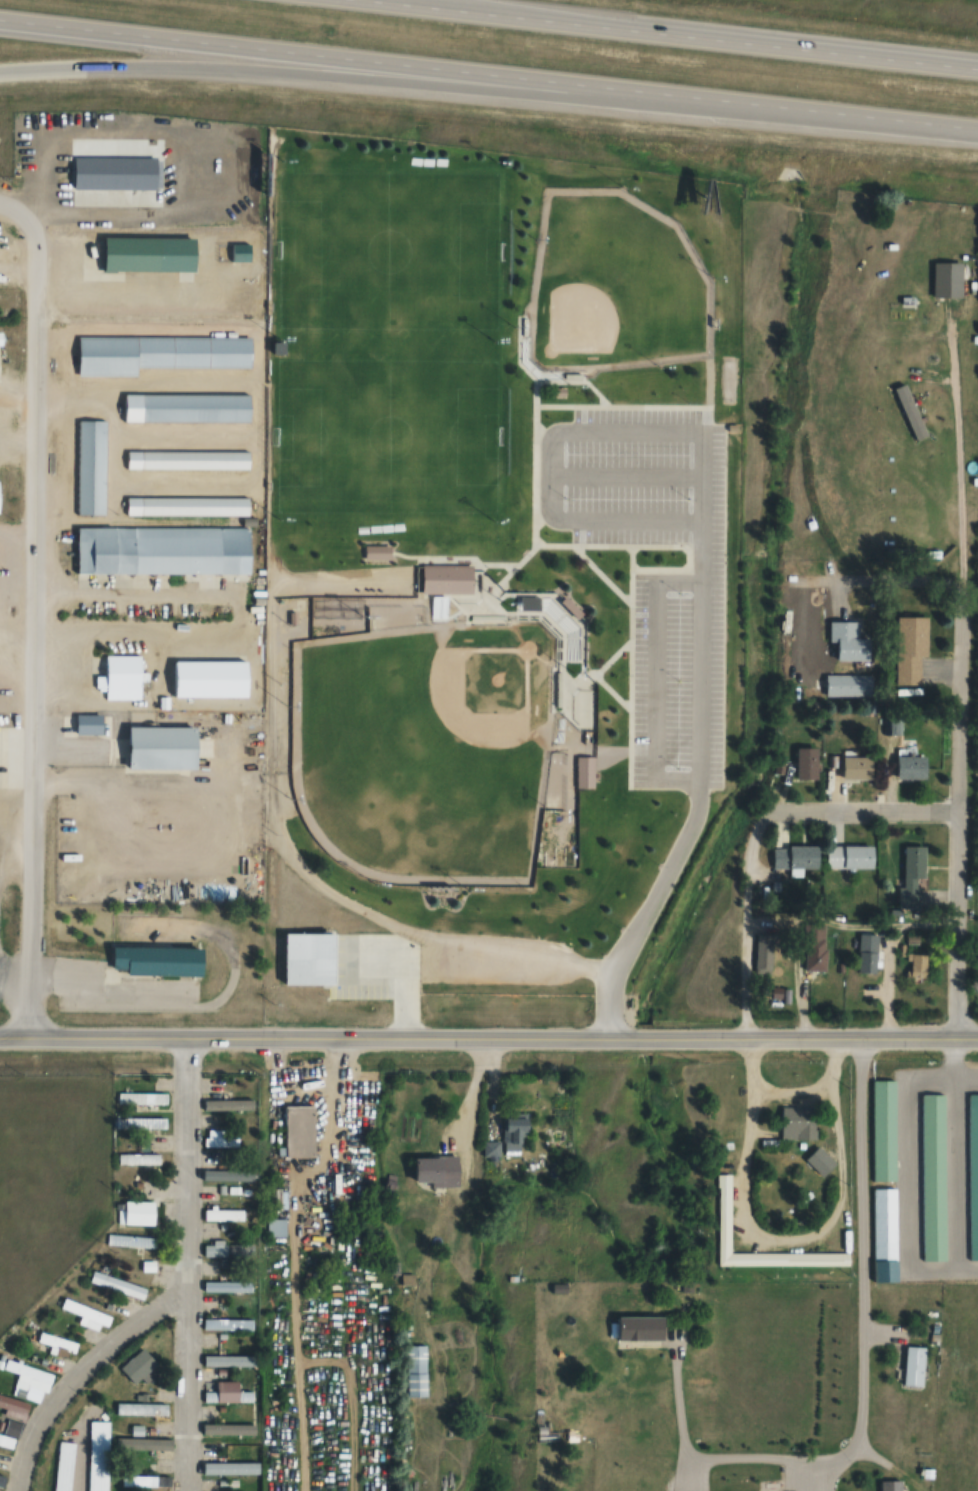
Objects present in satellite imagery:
road: (408, 3)
road: (668, 35)
road: (488, 78)
road: (392, 85)
building: (117, 173)
road: (75, 212)
park: (388, 247)
building: (150, 254)
park: (608, 289)
building: (1, 339)
building: (159, 353)
building: (196, 407)
road: (569, 407)
road: (654, 407)
park: (386, 430)
road: (956, 436)
building: (195, 460)
road: (534, 463)
building: (91, 467)
road: (623, 475)
building: (0, 496)
building: (194, 506)
road: (628, 546)
road: (692, 547)
building: (165, 550)
road: (528, 550)
road: (700, 553)
building: (448, 578)
road: (882, 581)
road: (629, 594)
road: (32, 623)
building: (849, 640)
building: (910, 647)
road: (628, 650)
building: (123, 676)
building: (211, 678)
road: (651, 680)
building: (848, 684)
road: (627, 718)
building: (891, 724)
park: (442, 728)
building: (164, 746)
building: (808, 762)
building: (857, 766)
building: (912, 767)
building: (585, 771)
road: (955, 795)
road: (860, 809)
road: (277, 834)
building: (850, 856)
building: (796, 858)
building: (912, 876)
road: (744, 922)
road: (849, 924)
building: (815, 946)
building: (763, 952)
building: (869, 953)
building: (161, 959)
building: (303, 962)
building: (917, 965)
road: (56, 1040)
road: (188, 1040)
road: (453, 1040)
road: (797, 1040)
road: (965, 1040)
road: (952, 1058)
road: (791, 1092)
building: (142, 1098)
building: (225, 1103)
building: (797, 1121)
building: (141, 1123)
building: (883, 1129)
building: (300, 1130)
building: (515, 1131)
building: (220, 1138)
building: (212, 1156)
building: (139, 1159)
building: (820, 1159)
building: (438, 1170)
road: (907, 1170)
road: (953, 1171)
building: (973, 1171)
building: (226, 1175)
building: (932, 1175)
building: (278, 1198)
building: (723, 1211)
building: (140, 1212)
building: (224, 1214)
building: (276, 1231)
building: (882, 1233)
road: (785, 1237)
building: (131, 1240)
building: (229, 1248)
road: (294, 1257)
building: (146, 1264)
road: (180, 1265)
building: (117, 1284)
building: (228, 1286)
building: (85, 1311)
building: (224, 1323)
building: (642, 1327)
road: (861, 1332)
building: (58, 1344)
building: (228, 1360)
building: (914, 1365)
building: (138, 1366)
building: (416, 1370)
road: (75, 1374)
building: (28, 1381)
building: (227, 1393)
road: (351, 1400)
road: (676, 1400)
building: (14, 1404)
building: (145, 1409)
building: (224, 1429)
building: (10, 1434)
building: (147, 1445)
building: (228, 1469)
building: (2, 1480)
building: (146, 1481)
building: (892, 1486)

